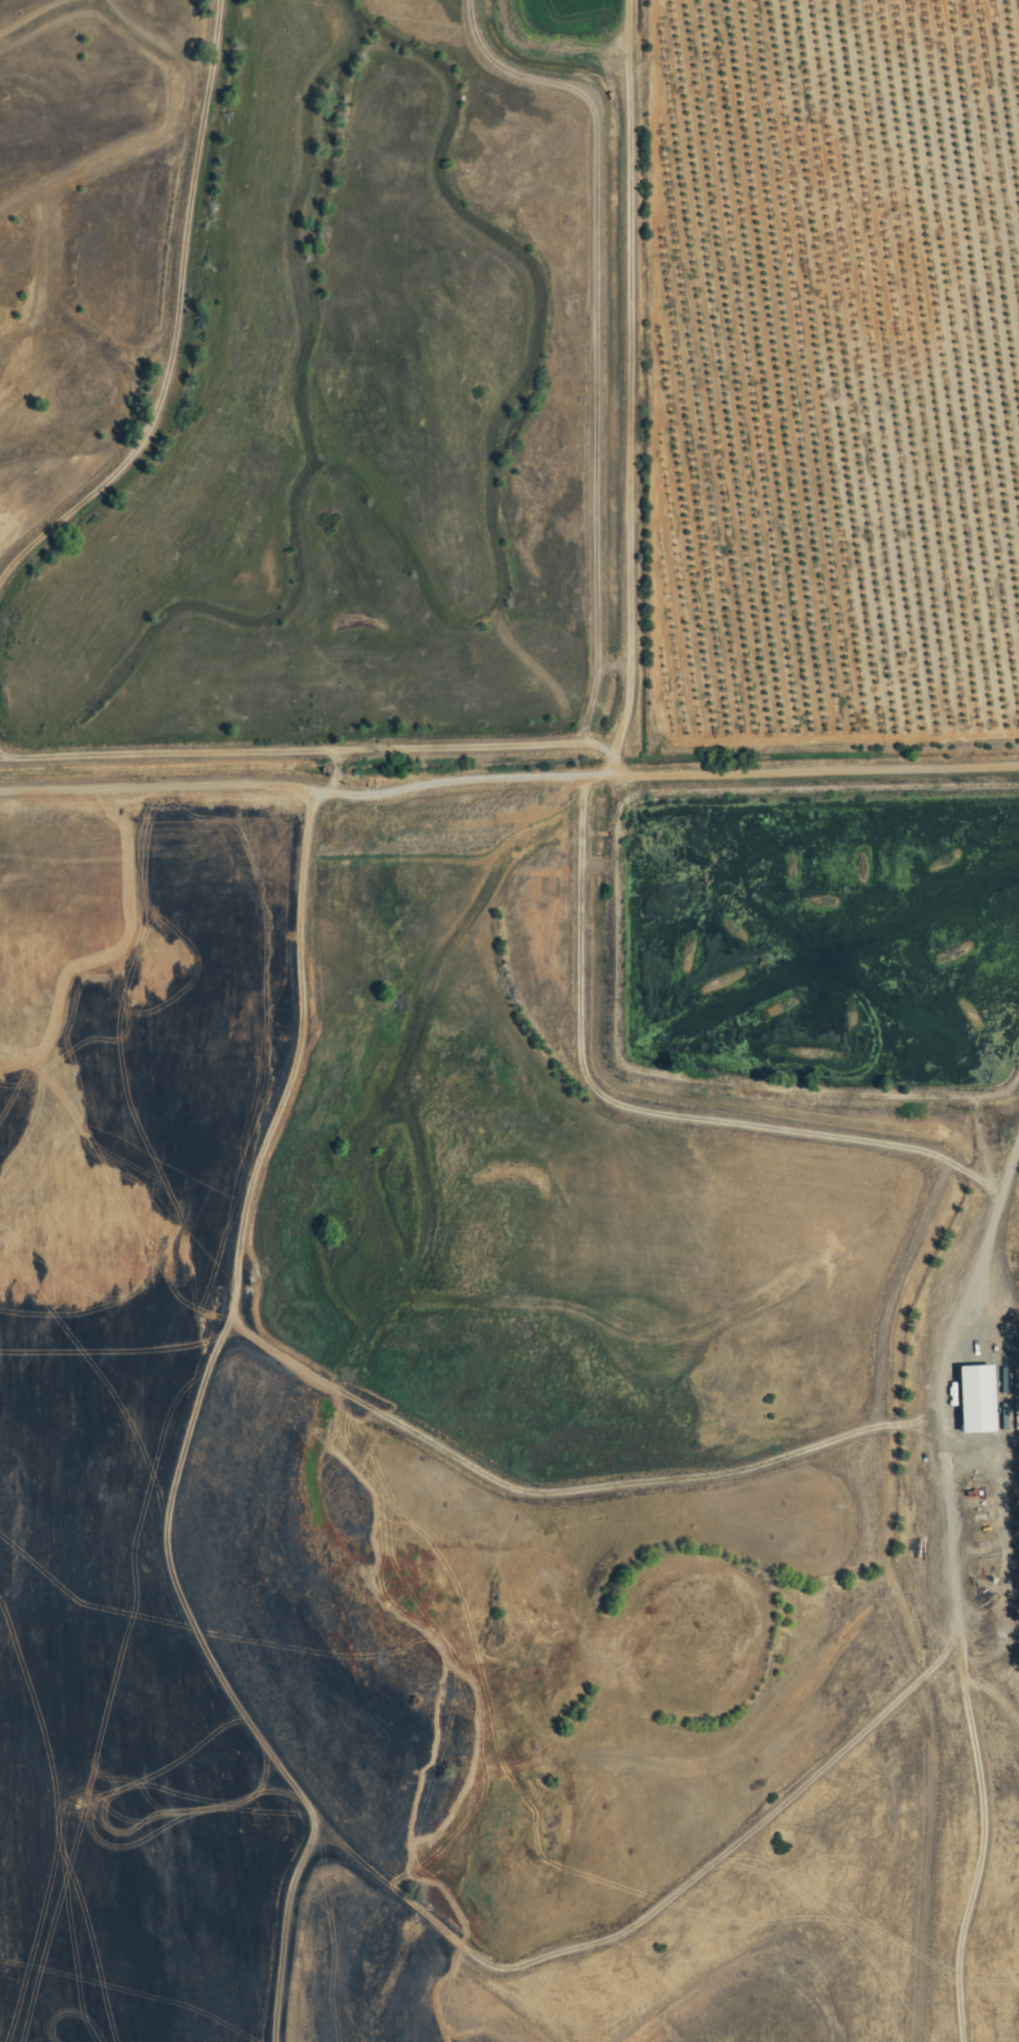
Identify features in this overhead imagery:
road: (935, 782)
road: (986, 1232)
building: (975, 1399)

